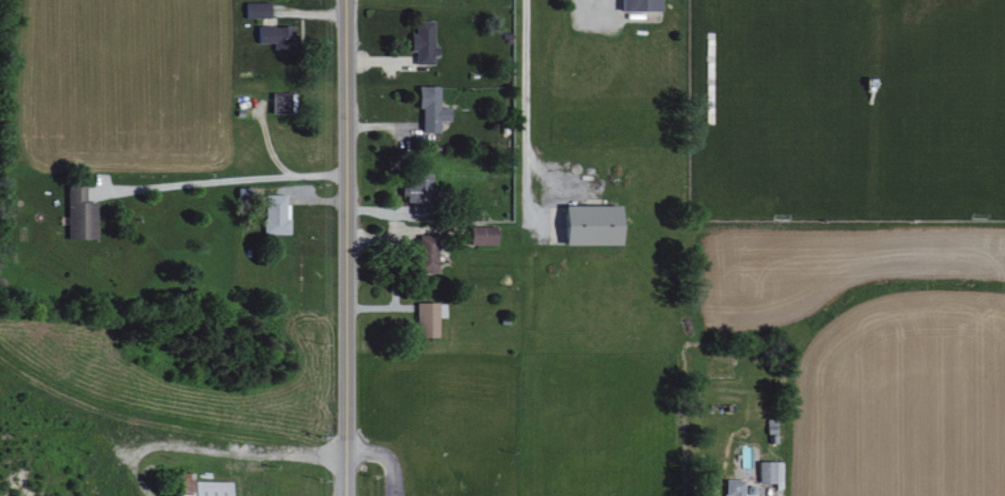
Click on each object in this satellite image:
building: (643, 5)
building: (258, 10)
building: (278, 36)
building: (425, 42)
building: (282, 102)
building: (433, 108)
road: (527, 110)
road: (222, 179)
building: (420, 197)
building: (82, 214)
building: (277, 215)
building: (596, 224)
building: (484, 235)
road: (348, 248)
building: (429, 254)
building: (428, 319)
building: (772, 426)
road: (387, 456)
road: (211, 463)
building: (770, 473)
building: (202, 487)
building: (735, 487)

